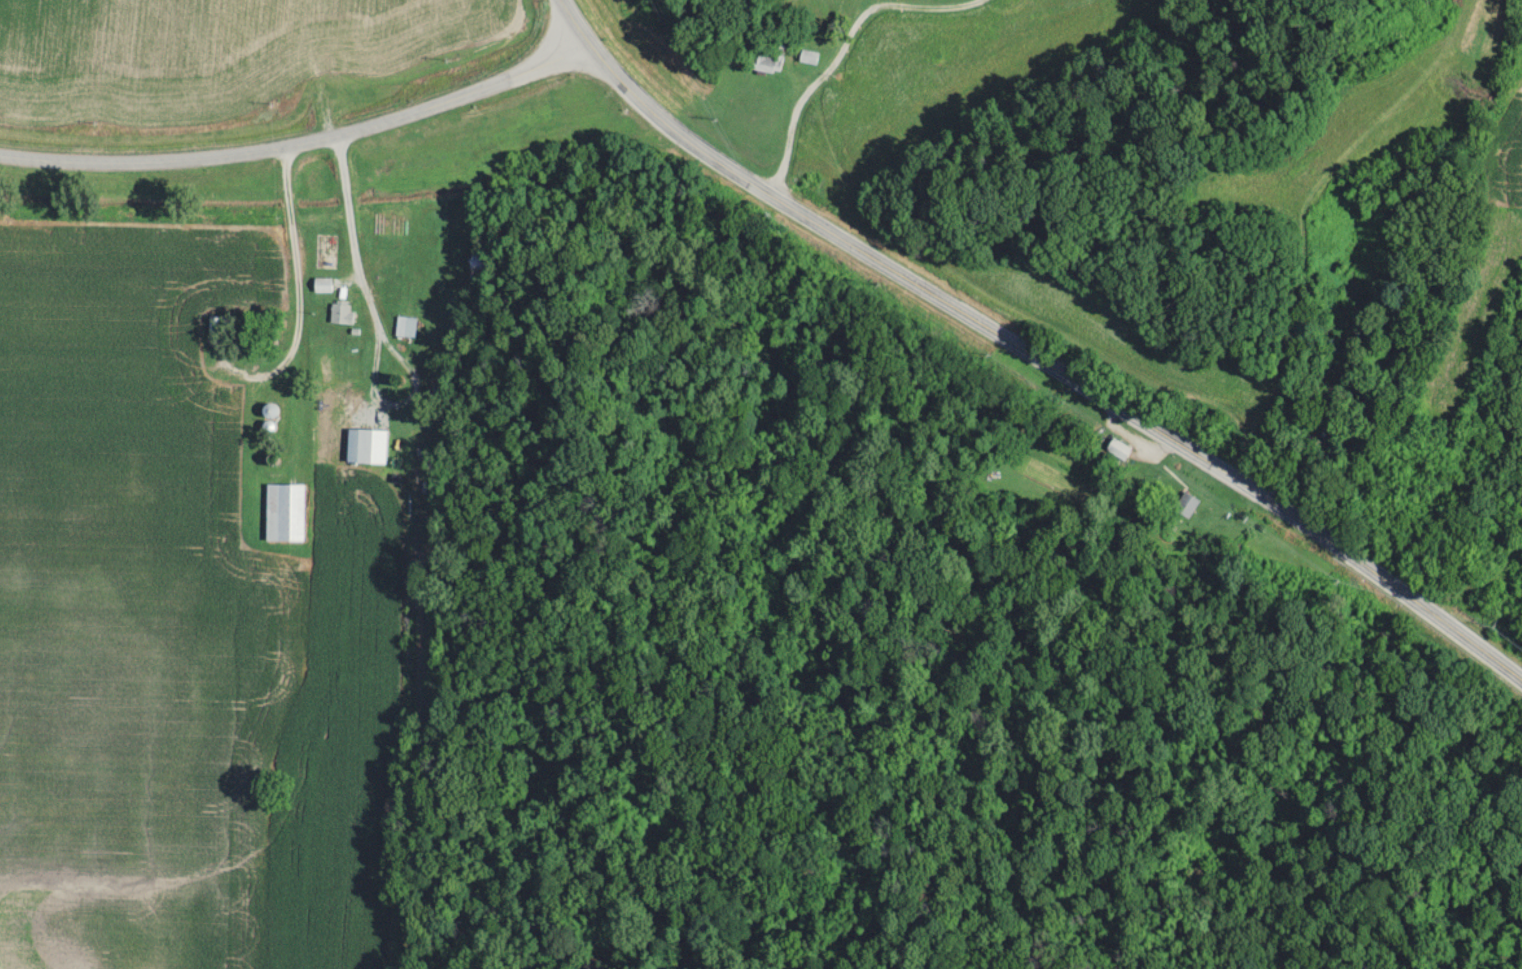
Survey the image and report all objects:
road: (838, 53)
building: (771, 57)
building: (812, 57)
road: (301, 146)
road: (348, 209)
building: (385, 222)
building: (328, 250)
building: (480, 265)
building: (325, 284)
road: (297, 292)
building: (344, 312)
building: (402, 327)
road: (1026, 354)
building: (272, 409)
building: (374, 445)
building: (1189, 504)
building: (287, 511)

